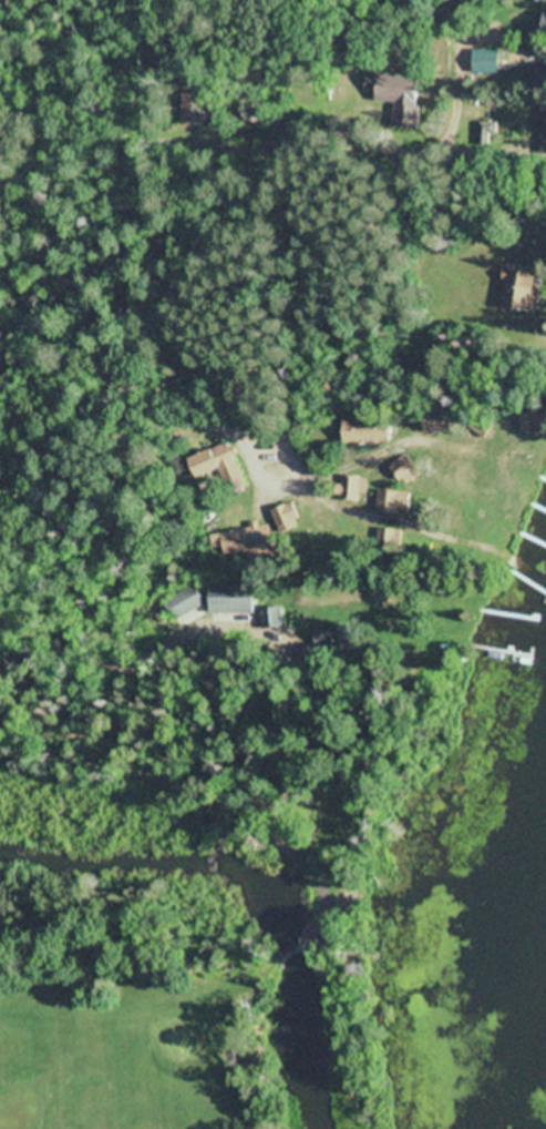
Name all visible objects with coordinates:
building: (544, 0)
road: (187, 48)
building: (488, 60)
building: (394, 92)
building: (544, 131)
road: (62, 307)
road: (267, 420)
building: (369, 430)
building: (223, 466)
building: (289, 516)
building: (241, 547)
building: (235, 598)
building: (186, 602)
road: (207, 726)
park: (243, 797)
river: (174, 838)
dam: (298, 944)
river: (305, 1036)

